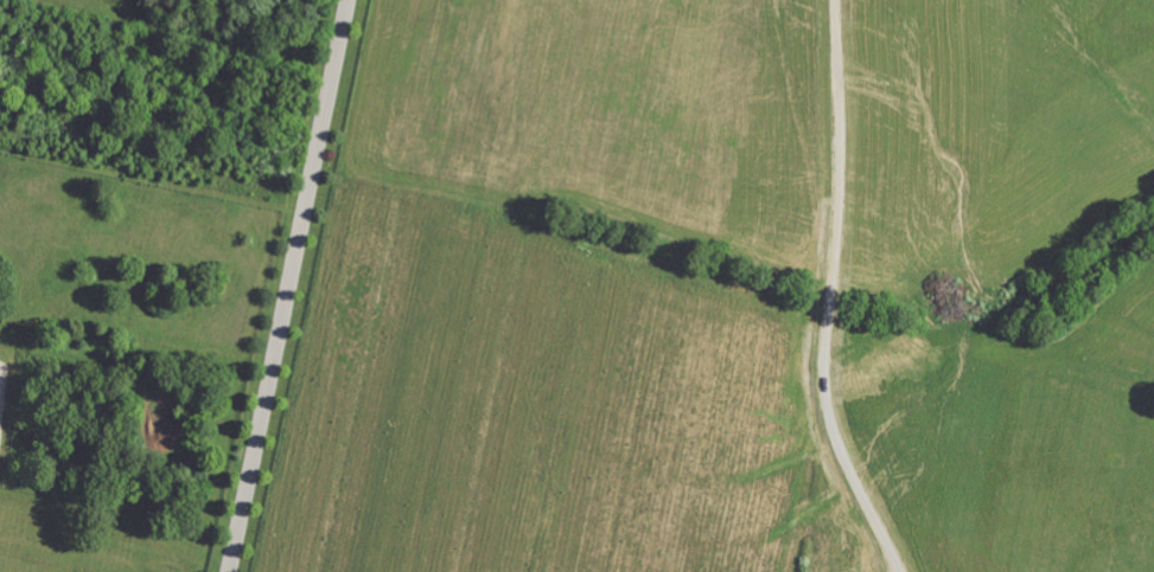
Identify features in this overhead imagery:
road: (287, 285)
road: (828, 294)

